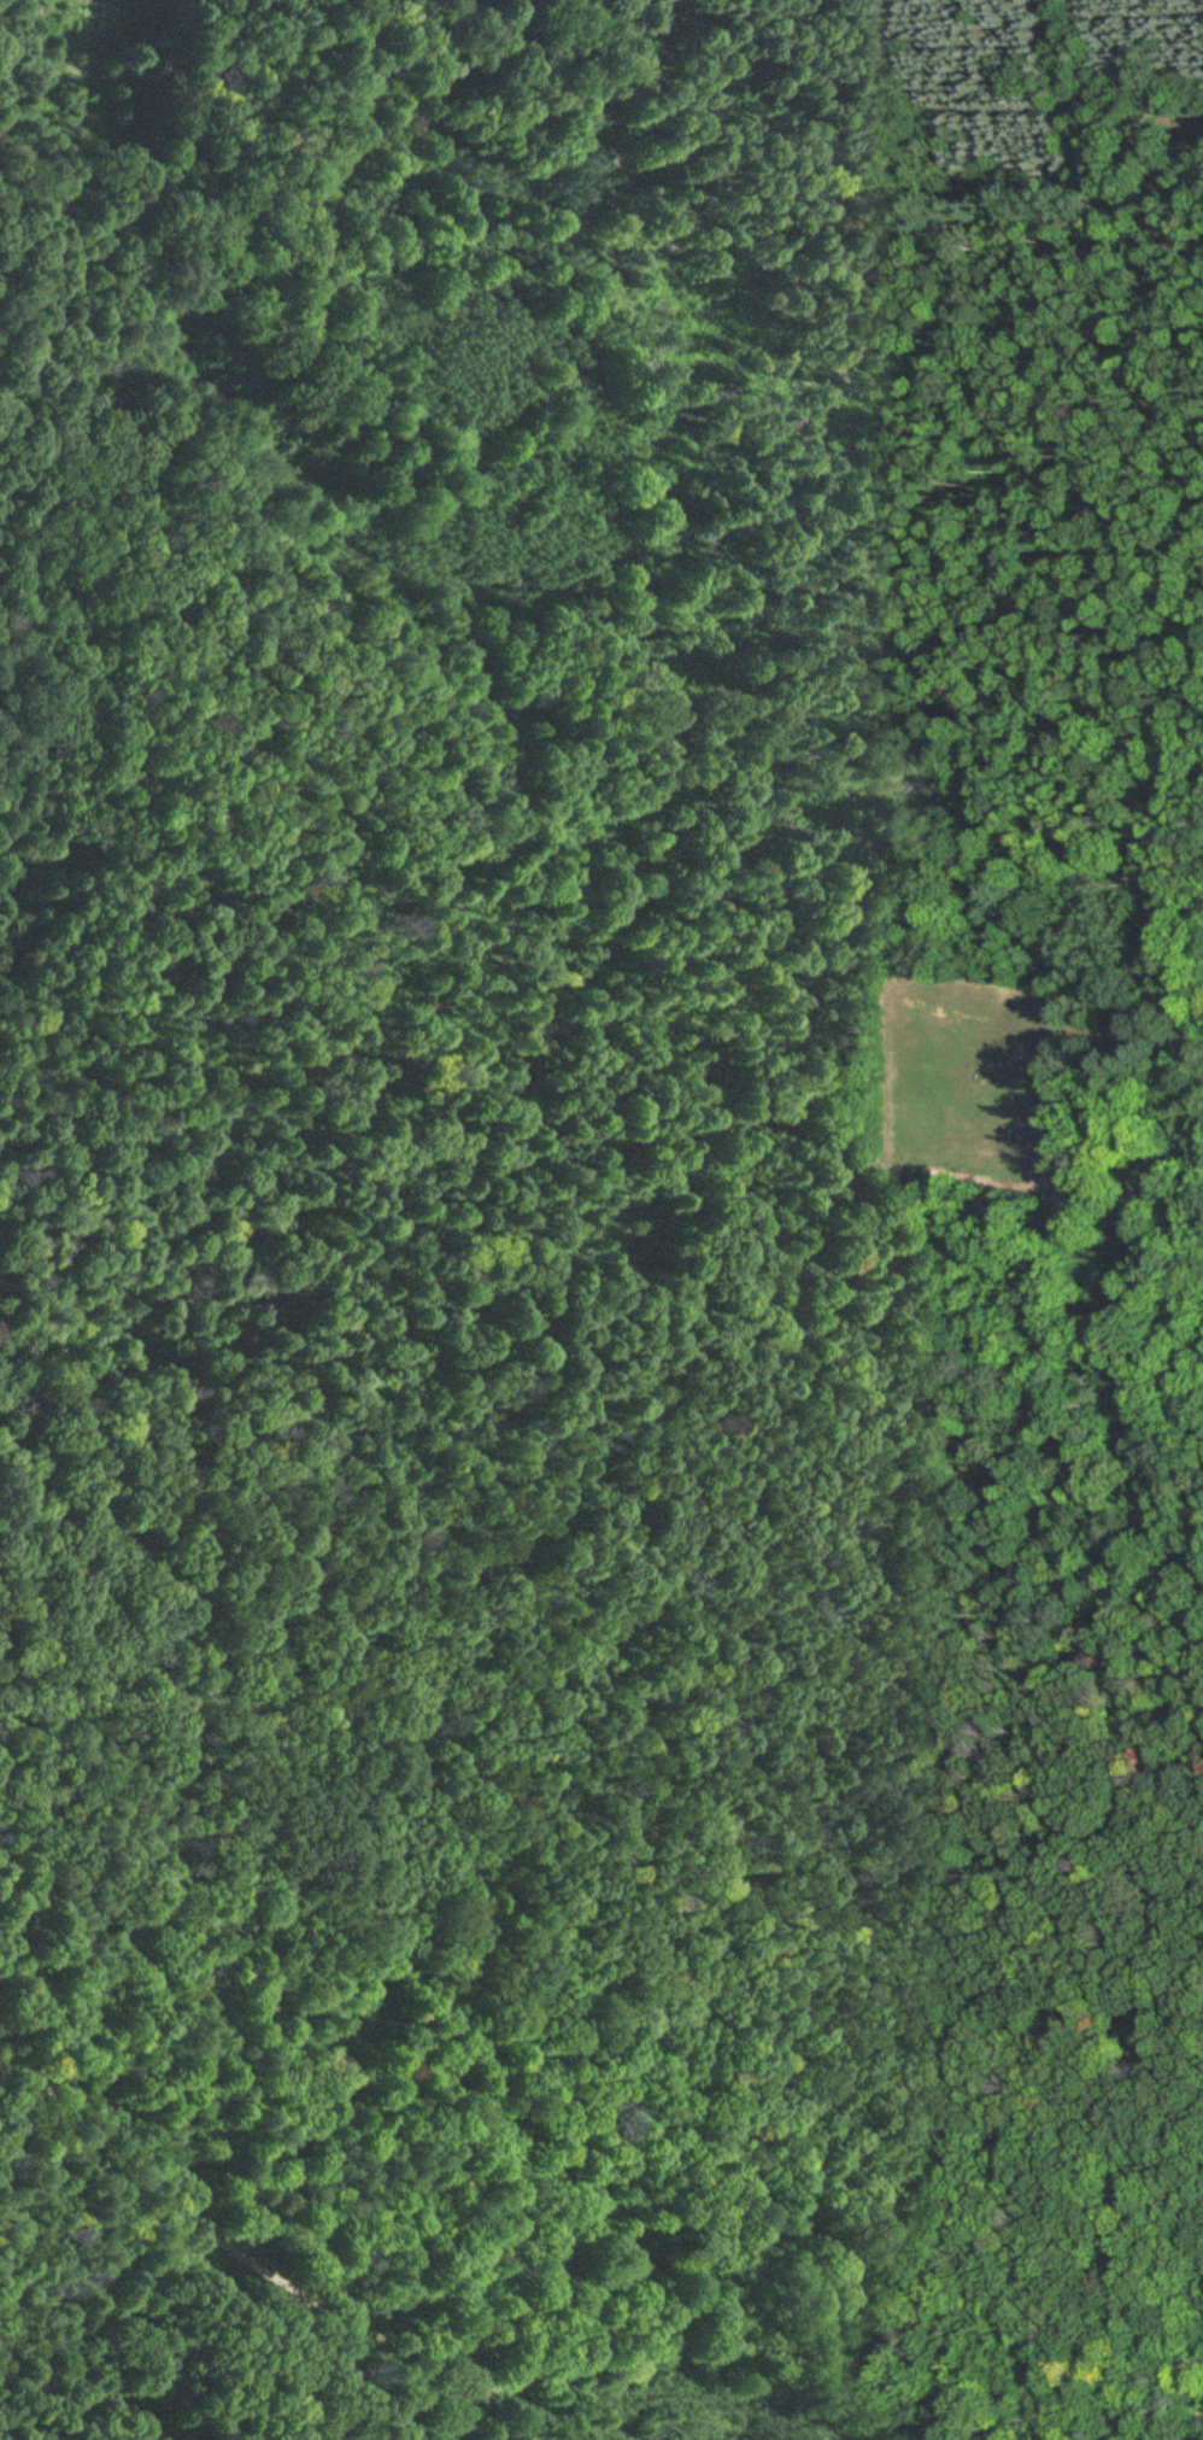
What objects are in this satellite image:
building: (1146, 1221)

